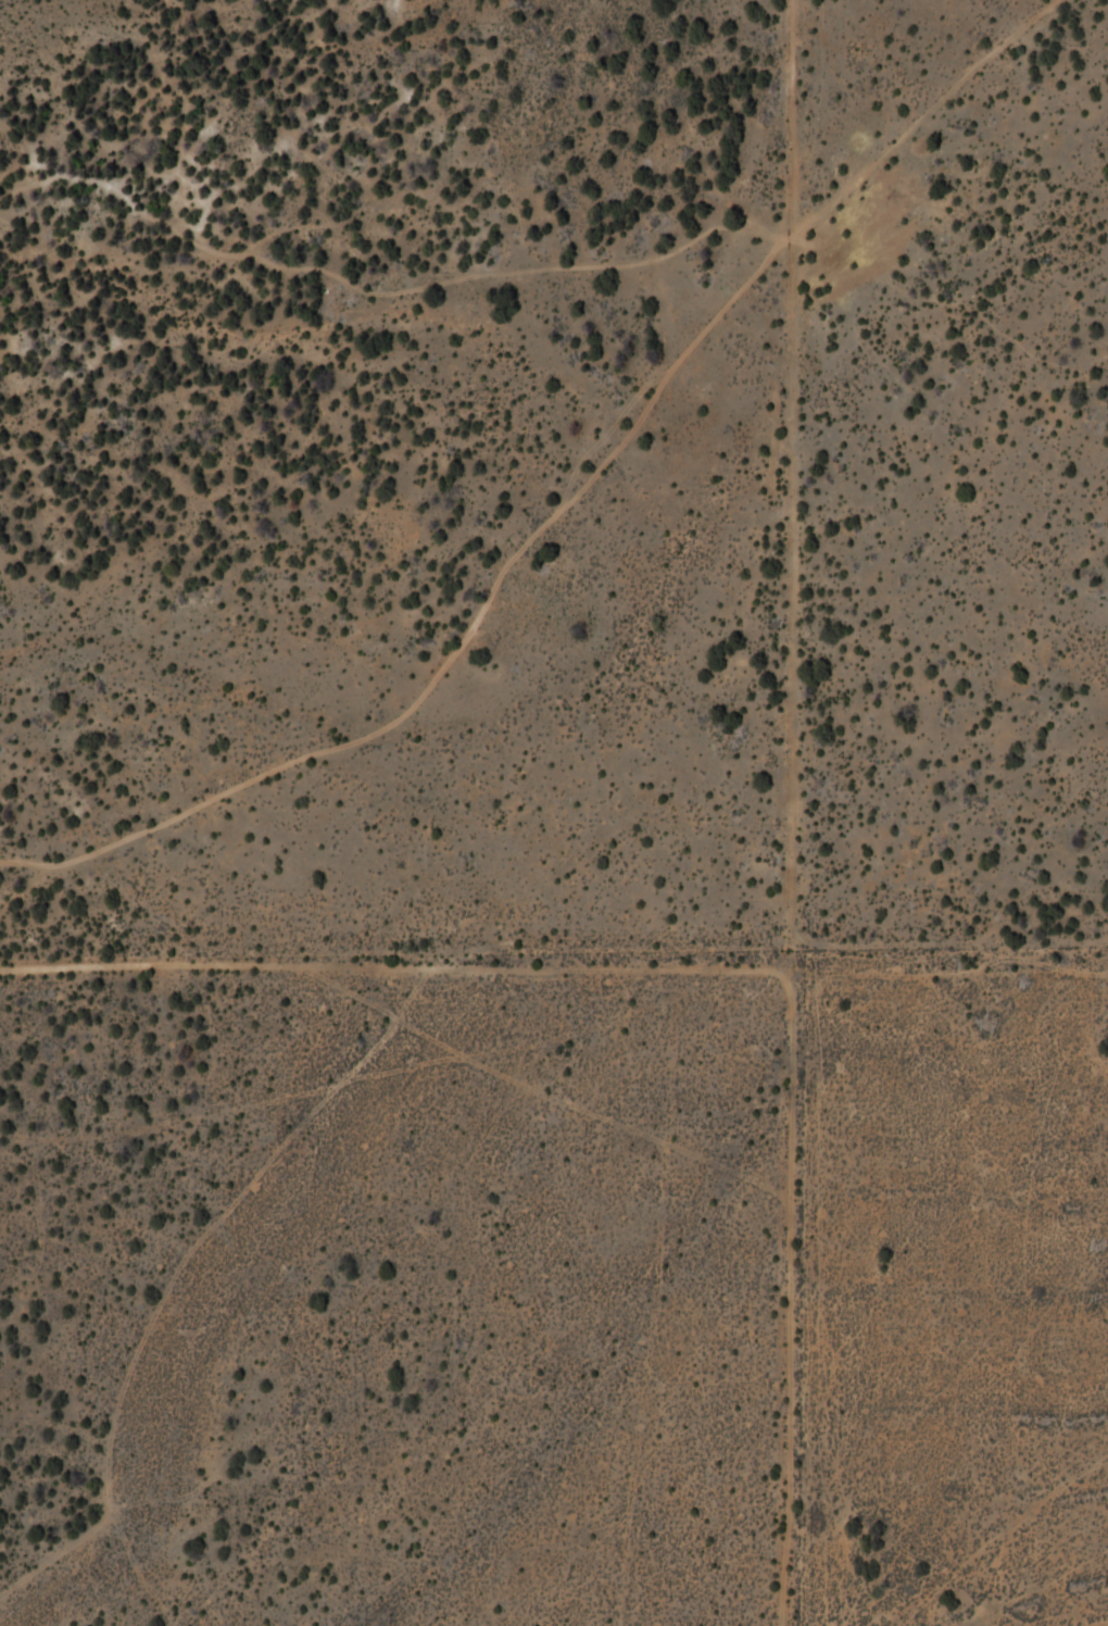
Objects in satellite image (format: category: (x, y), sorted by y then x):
road: (559, 506)
road: (789, 813)
road: (555, 970)

